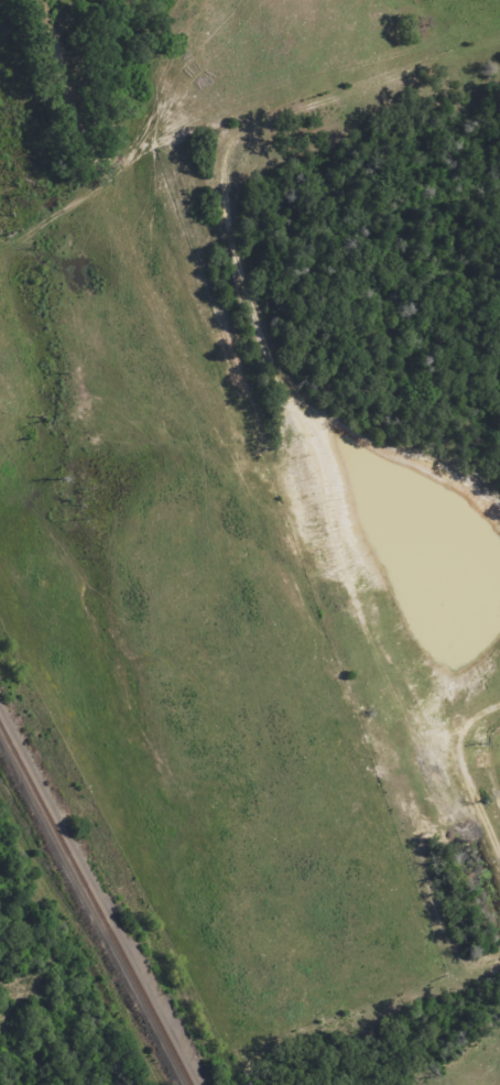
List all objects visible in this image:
railway: (93, 910)

